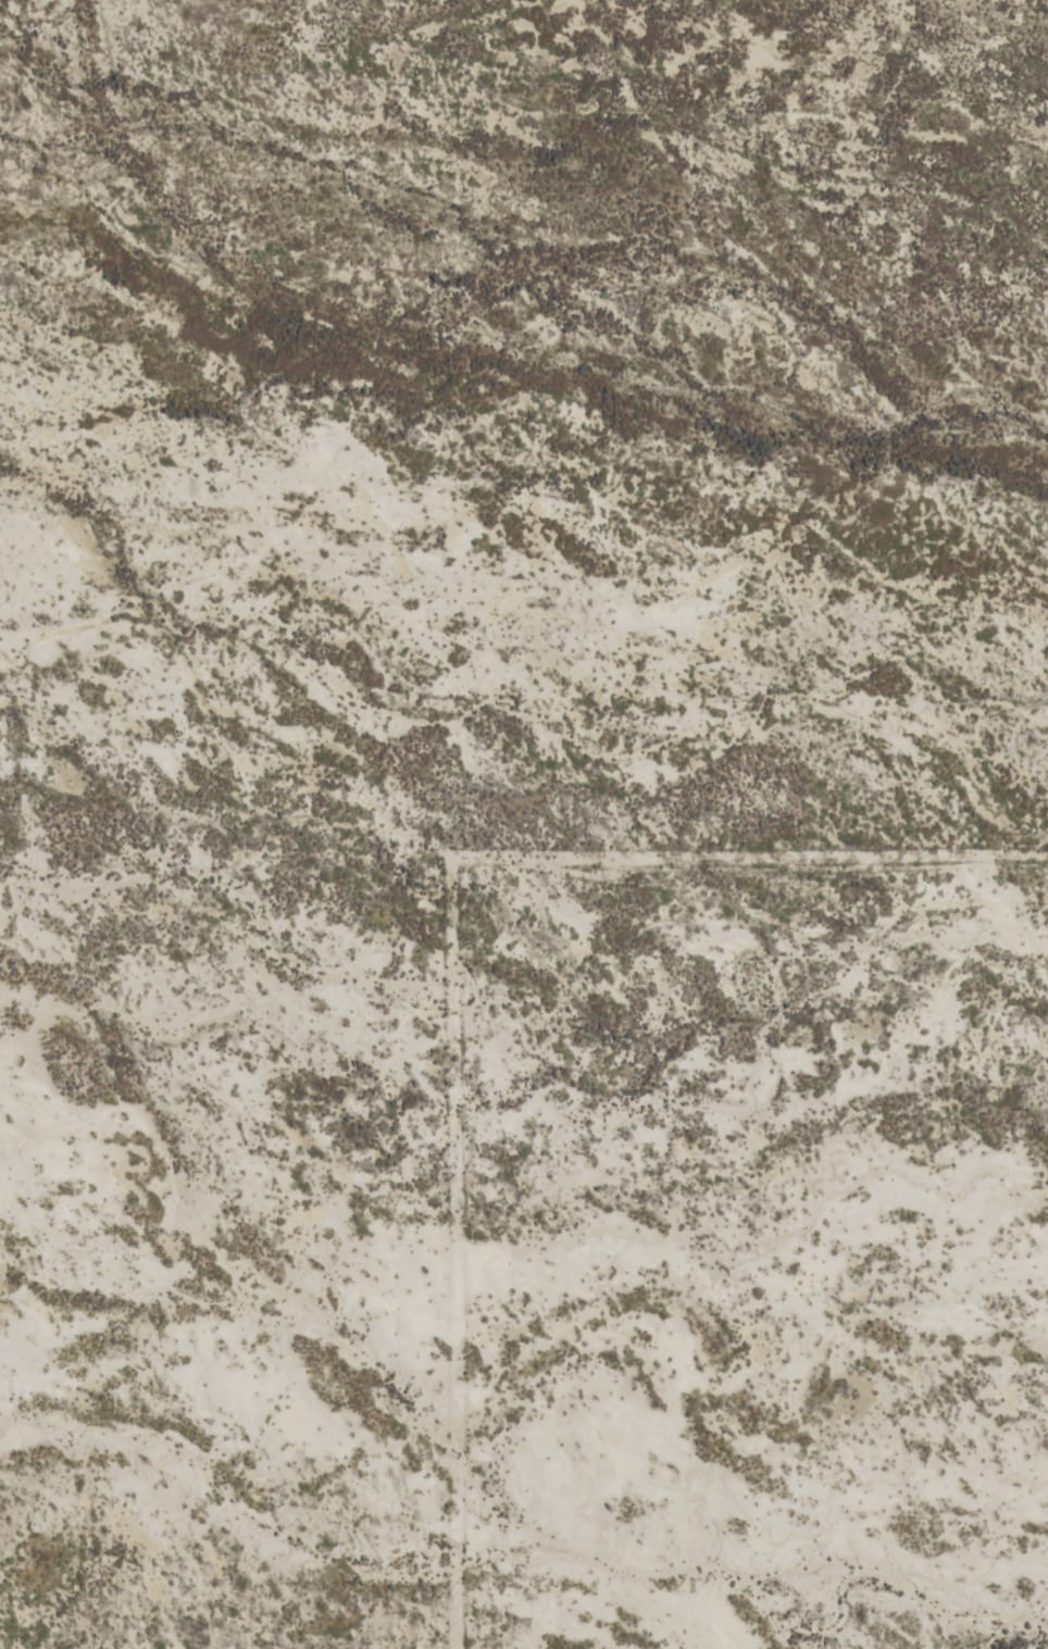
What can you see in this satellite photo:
railway: (158, 1410)
railway: (151, 1420)

